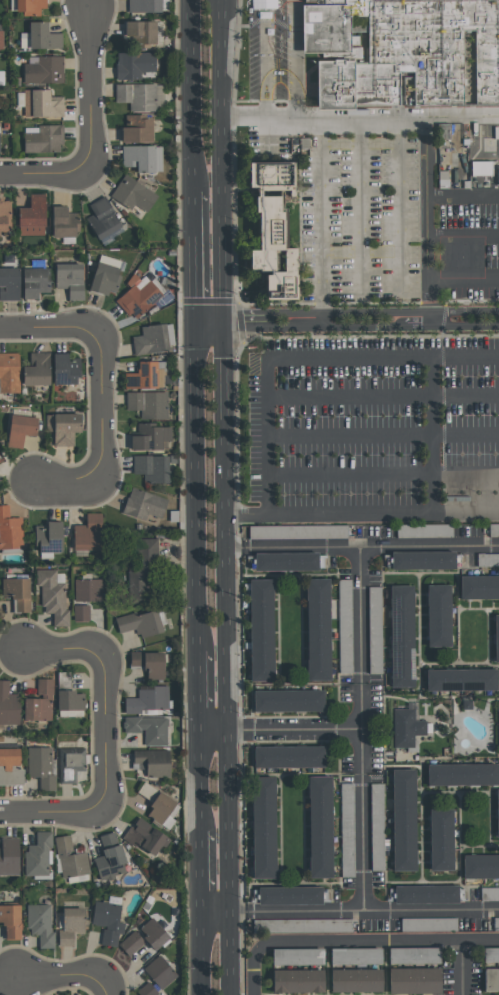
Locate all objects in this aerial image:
building: (28, 5)
building: (146, 5)
building: (143, 33)
building: (1, 37)
building: (41, 37)
building: (403, 51)
road: (263, 59)
road: (293, 59)
building: (136, 64)
building: (42, 69)
road: (89, 86)
road: (191, 94)
building: (139, 95)
building: (43, 103)
road: (360, 119)
building: (140, 129)
road: (358, 130)
building: (43, 138)
road: (346, 141)
building: (0, 142)
building: (144, 157)
road: (223, 162)
building: (481, 168)
road: (42, 171)
building: (134, 193)
road: (463, 197)
building: (6, 216)
building: (34, 217)
building: (105, 220)
road: (359, 220)
road: (428, 220)
parking lot: (397, 221)
building: (65, 222)
building: (272, 230)
road: (464, 237)
road: (194, 256)
helipad: (458, 256)
building: (105, 278)
building: (71, 279)
building: (37, 282)
road: (464, 282)
building: (10, 283)
building: (138, 295)
road: (361, 323)
road: (49, 325)
road: (210, 325)
building: (154, 339)
road: (305, 358)
building: (38, 369)
building: (67, 369)
building: (11, 372)
building: (147, 376)
road: (383, 398)
building: (148, 403)
parking lot: (374, 424)
building: (64, 428)
building: (23, 430)
road: (103, 436)
building: (153, 437)
road: (383, 437)
road: (433, 437)
building: (2, 457)
building: (153, 468)
road: (383, 476)
road: (197, 489)
building: (145, 505)
road: (362, 516)
building: (424, 530)
building: (493, 530)
building: (297, 531)
building: (10, 532)
building: (90, 534)
building: (51, 537)
road: (362, 547)
building: (421, 559)
building: (487, 559)
building: (286, 561)
building: (146, 572)
building: (479, 586)
building: (89, 589)
building: (20, 593)
building: (56, 594)
building: (83, 612)
building: (437, 615)
building: (144, 623)
building: (344, 625)
building: (260, 629)
building: (317, 629)
building: (373, 629)
building: (401, 636)
building: (496, 638)
road: (227, 659)
building: (152, 663)
building: (460, 679)
road: (104, 689)
road: (199, 692)
building: (148, 698)
building: (287, 700)
building: (39, 701)
building: (70, 703)
building: (8, 705)
building: (406, 725)
building: (151, 727)
road: (360, 730)
road: (280, 731)
building: (288, 756)
building: (155, 761)
building: (72, 763)
building: (10, 767)
building: (43, 767)
building: (461, 774)
road: (200, 784)
building: (161, 805)
road: (52, 811)
building: (497, 811)
building: (403, 819)
building: (319, 826)
building: (376, 826)
building: (263, 827)
building: (346, 829)
building: (147, 835)
building: (440, 839)
building: (41, 854)
building: (11, 856)
building: (111, 857)
building: (72, 859)
building: (480, 866)
road: (201, 875)
building: (425, 893)
building: (489, 893)
building: (288, 895)
road: (350, 912)
building: (13, 920)
building: (107, 922)
building: (40, 923)
building: (495, 923)
building: (428, 924)
building: (70, 925)
building: (302, 925)
building: (153, 933)
building: (131, 943)
road: (378, 944)
road: (202, 954)
building: (490, 954)
building: (413, 955)
building: (297, 956)
building: (355, 956)
road: (463, 969)
road: (256, 970)
building: (159, 972)
building: (491, 979)
building: (355, 980)
building: (413, 980)
building: (297, 981)
road: (67, 982)
building: (147, 989)

